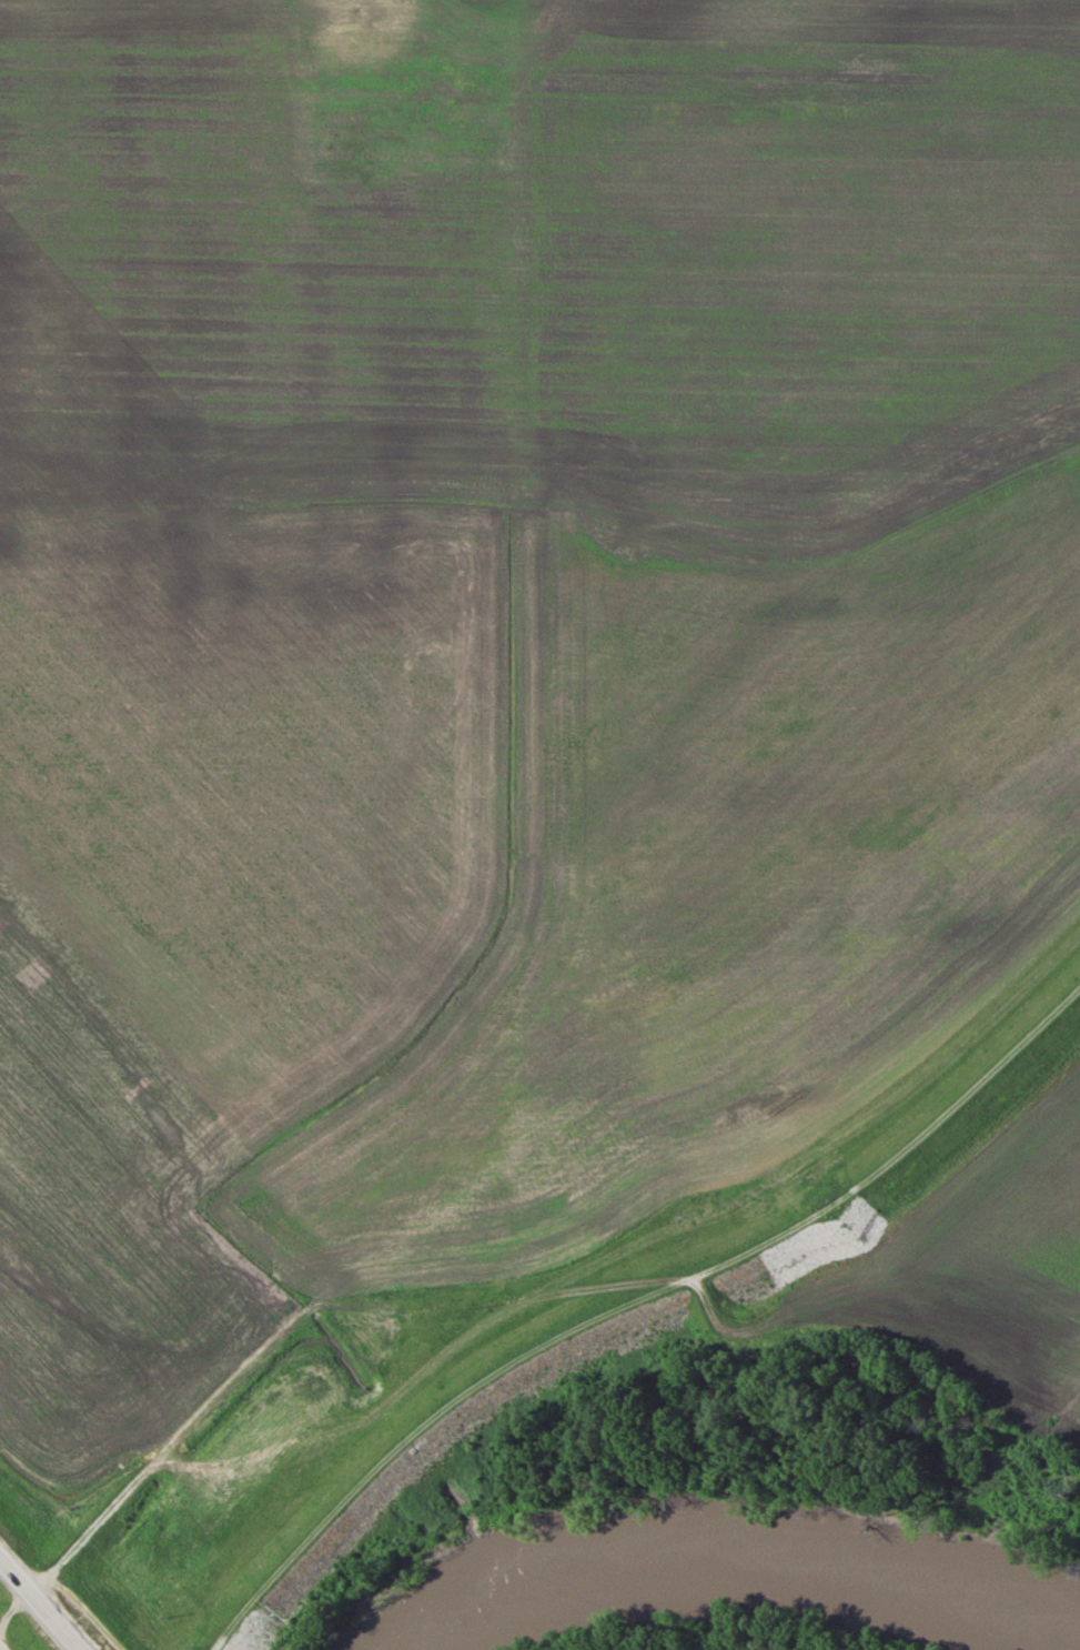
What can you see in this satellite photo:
park: (403, 83)
crop: (493, 681)
river: (744, 1558)
road: (40, 1604)

